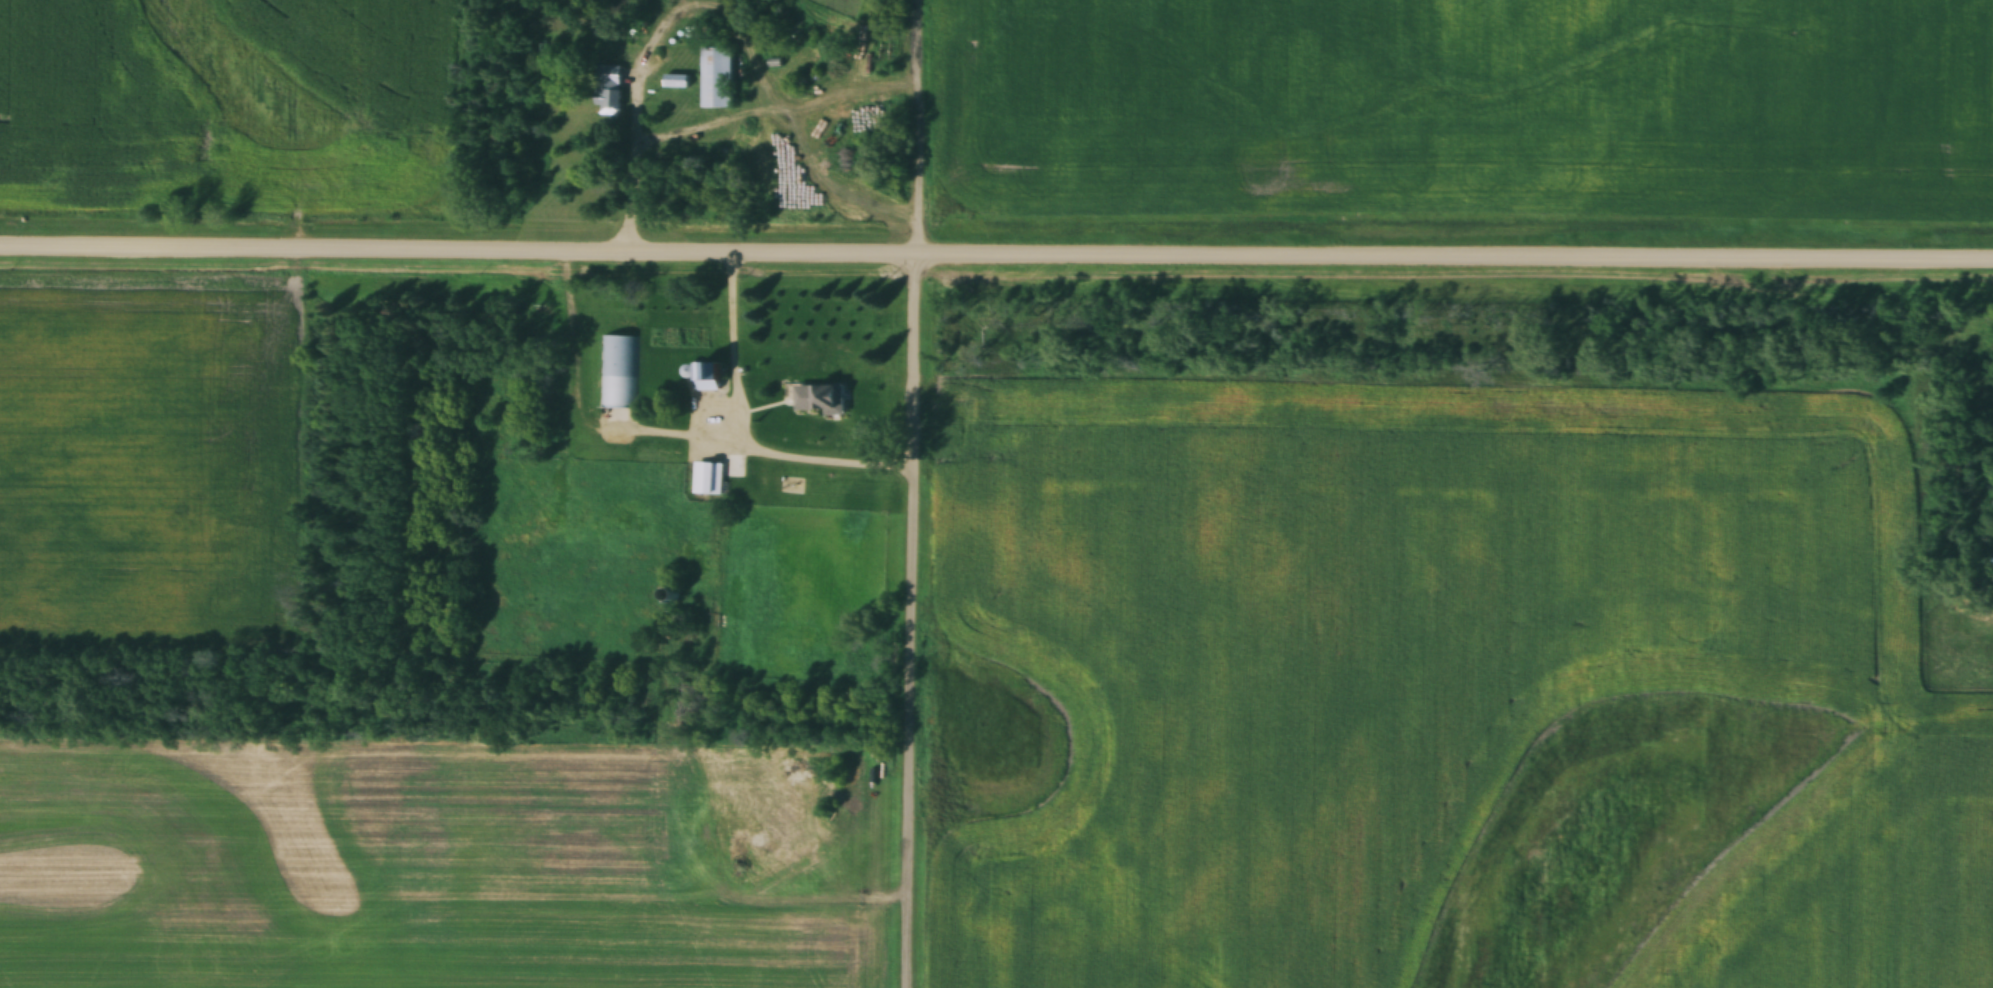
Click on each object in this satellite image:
building: (718, 78)
building: (676, 82)
building: (608, 90)
road: (996, 251)
building: (619, 372)
building: (709, 377)
building: (820, 398)
crop: (146, 477)
building: (703, 477)
road: (911, 493)

